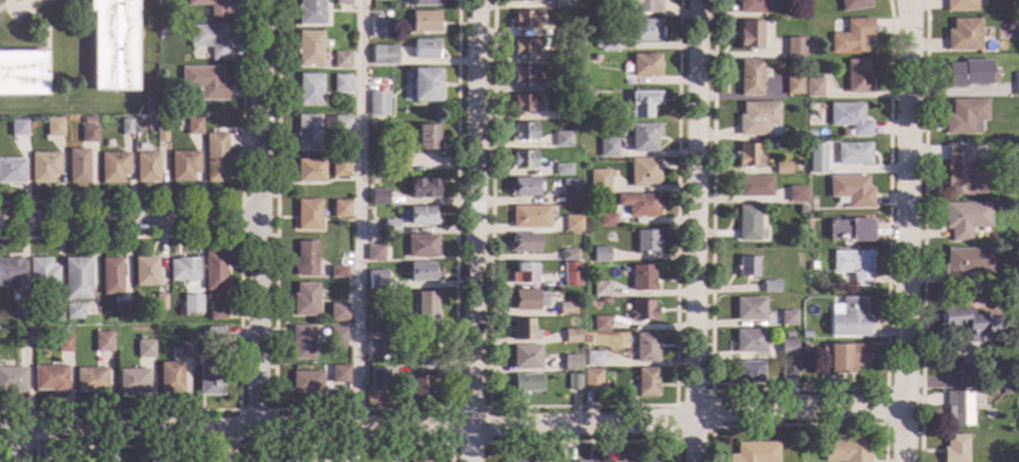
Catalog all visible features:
building: (378, 0)
building: (525, 0)
building: (342, 2)
building: (424, 2)
building: (562, 4)
building: (854, 4)
building: (641, 6)
building: (753, 6)
building: (960, 6)
building: (211, 7)
building: (311, 12)
building: (524, 19)
building: (424, 22)
building: (568, 29)
building: (378, 30)
building: (646, 30)
building: (750, 35)
building: (964, 35)
building: (852, 37)
building: (210, 40)
building: (605, 41)
building: (1018, 44)
building: (113, 45)
building: (524, 47)
building: (795, 47)
building: (309, 48)
building: (425, 49)
building: (384, 55)
building: (554, 57)
building: (594, 59)
building: (341, 60)
building: (645, 65)
building: (22, 72)
building: (968, 73)
building: (523, 75)
building: (857, 77)
building: (750, 78)
building: (204, 82)
building: (1016, 84)
building: (341, 85)
building: (425, 85)
building: (566, 85)
building: (793, 85)
building: (813, 88)
building: (309, 89)
building: (590, 92)
building: (524, 103)
building: (642, 103)
building: (377, 104)
building: (807, 105)
building: (562, 114)
building: (965, 116)
building: (849, 118)
building: (758, 119)
building: (85, 121)
building: (336, 125)
building: (193, 126)
building: (54, 127)
building: (126, 127)
building: (19, 128)
building: (522, 131)
building: (161, 133)
building: (308, 133)
building: (89, 134)
building: (809, 134)
building: (794, 135)
building: (426, 137)
building: (643, 137)
building: (562, 139)
building: (607, 148)
building: (852, 153)
building: (748, 156)
building: (215, 157)
building: (816, 158)
building: (522, 159)
building: (398, 163)
building: (183, 165)
building: (78, 166)
building: (44, 167)
building: (114, 167)
building: (146, 167)
building: (339, 168)
building: (782, 168)
building: (562, 169)
building: (309, 170)
building: (377, 170)
building: (12, 171)
building: (643, 172)
building: (961, 174)
building: (600, 185)
building: (524, 187)
building: (754, 187)
building: (423, 188)
building: (570, 191)
building: (850, 191)
building: (795, 194)
building: (1003, 195)
building: (379, 197)
road: (220, 201)
building: (638, 204)
building: (1017, 206)
building: (340, 209)
road: (473, 212)
road: (258, 213)
road: (357, 213)
building: (308, 215)
building: (421, 216)
building: (529, 217)
building: (964, 218)
road: (128, 219)
road: (240, 219)
building: (606, 220)
building: (747, 223)
building: (572, 224)
building: (390, 227)
building: (850, 230)
road: (906, 230)
road: (923, 230)
road: (696, 231)
building: (646, 241)
building: (522, 243)
building: (421, 246)
building: (374, 253)
building: (600, 254)
building: (568, 255)
building: (305, 258)
building: (964, 264)
building: (813, 265)
building: (853, 265)
building: (747, 266)
building: (182, 269)
building: (1016, 270)
building: (144, 271)
building: (213, 271)
building: (338, 272)
building: (422, 272)
building: (11, 273)
building: (523, 273)
building: (42, 274)
building: (570, 274)
building: (111, 276)
building: (76, 278)
building: (642, 278)
building: (376, 280)
building: (770, 287)
building: (600, 289)
building: (585, 294)
building: (305, 300)
building: (524, 300)
building: (159, 302)
building: (194, 302)
building: (426, 307)
building: (19, 309)
building: (564, 309)
building: (749, 309)
building: (123, 310)
building: (216, 311)
building: (642, 311)
building: (73, 312)
building: (338, 312)
building: (53, 313)
building: (787, 318)
building: (847, 318)
building: (968, 321)
building: (600, 324)
building: (397, 325)
building: (523, 330)
building: (788, 334)
building: (804, 334)
building: (571, 336)
building: (214, 337)
building: (336, 337)
building: (585, 339)
building: (24, 340)
building: (748, 341)
building: (103, 342)
building: (302, 342)
building: (64, 344)
building: (422, 344)
building: (802, 347)
building: (645, 348)
building: (145, 349)
building: (187, 349)
building: (374, 349)
building: (787, 349)
building: (525, 357)
building: (845, 357)
building: (593, 359)
building: (570, 363)
building: (788, 370)
building: (748, 372)
building: (339, 374)
building: (170, 377)
building: (210, 377)
building: (51, 378)
building: (13, 380)
building: (91, 380)
building: (377, 380)
building: (133, 381)
building: (306, 382)
building: (572, 382)
building: (589, 382)
building: (645, 382)
building: (524, 384)
building: (420, 387)
road: (796, 391)
building: (1005, 391)
road: (579, 407)
building: (959, 407)
road: (885, 408)
road: (361, 409)
road: (710, 409)
road: (452, 410)
road: (797, 410)
building: (1018, 420)
road: (675, 423)
road: (799, 426)
road: (347, 427)
road: (236, 428)
road: (591, 442)
road: (469, 443)
road: (343, 444)
road: (216, 445)
road: (11, 447)
building: (954, 449)
building: (843, 451)
building: (754, 452)
building: (622, 460)
building: (419, 461)
building: (511, 461)
building: (583, 461)
building: (623, 461)

